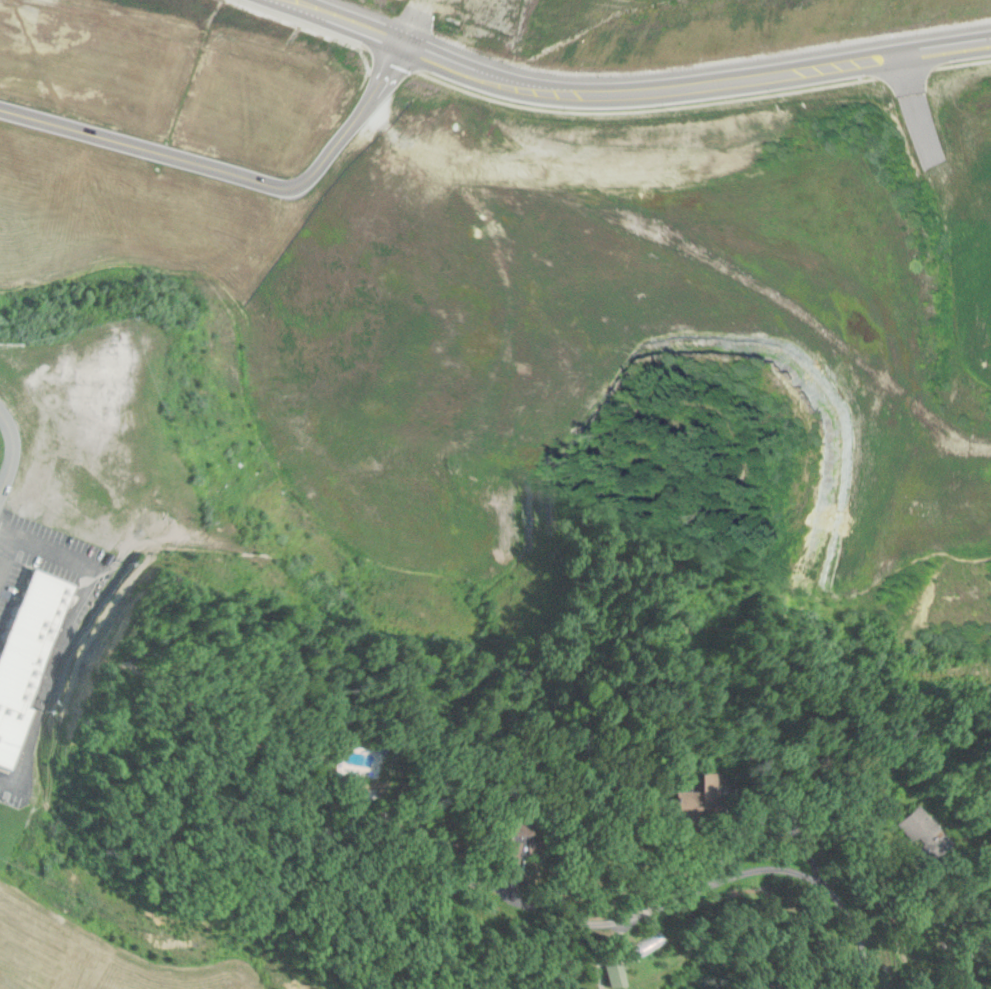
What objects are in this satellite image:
road: (630, 94)
road: (236, 180)
road: (14, 452)
road: (7, 554)
road: (68, 638)
building: (27, 651)
building: (358, 763)
building: (919, 831)
building: (519, 847)
road: (728, 884)
building: (648, 945)
building: (612, 976)

